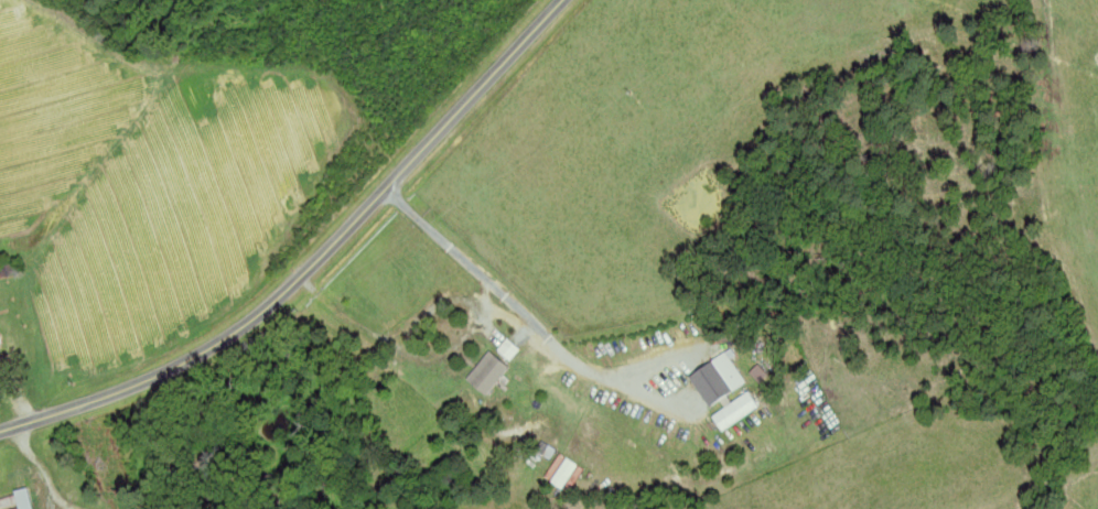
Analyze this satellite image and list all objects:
road: (313, 262)
road: (523, 314)
building: (2, 337)
building: (514, 349)
building: (491, 371)
building: (714, 383)
building: (738, 410)
building: (51, 447)
building: (18, 500)

